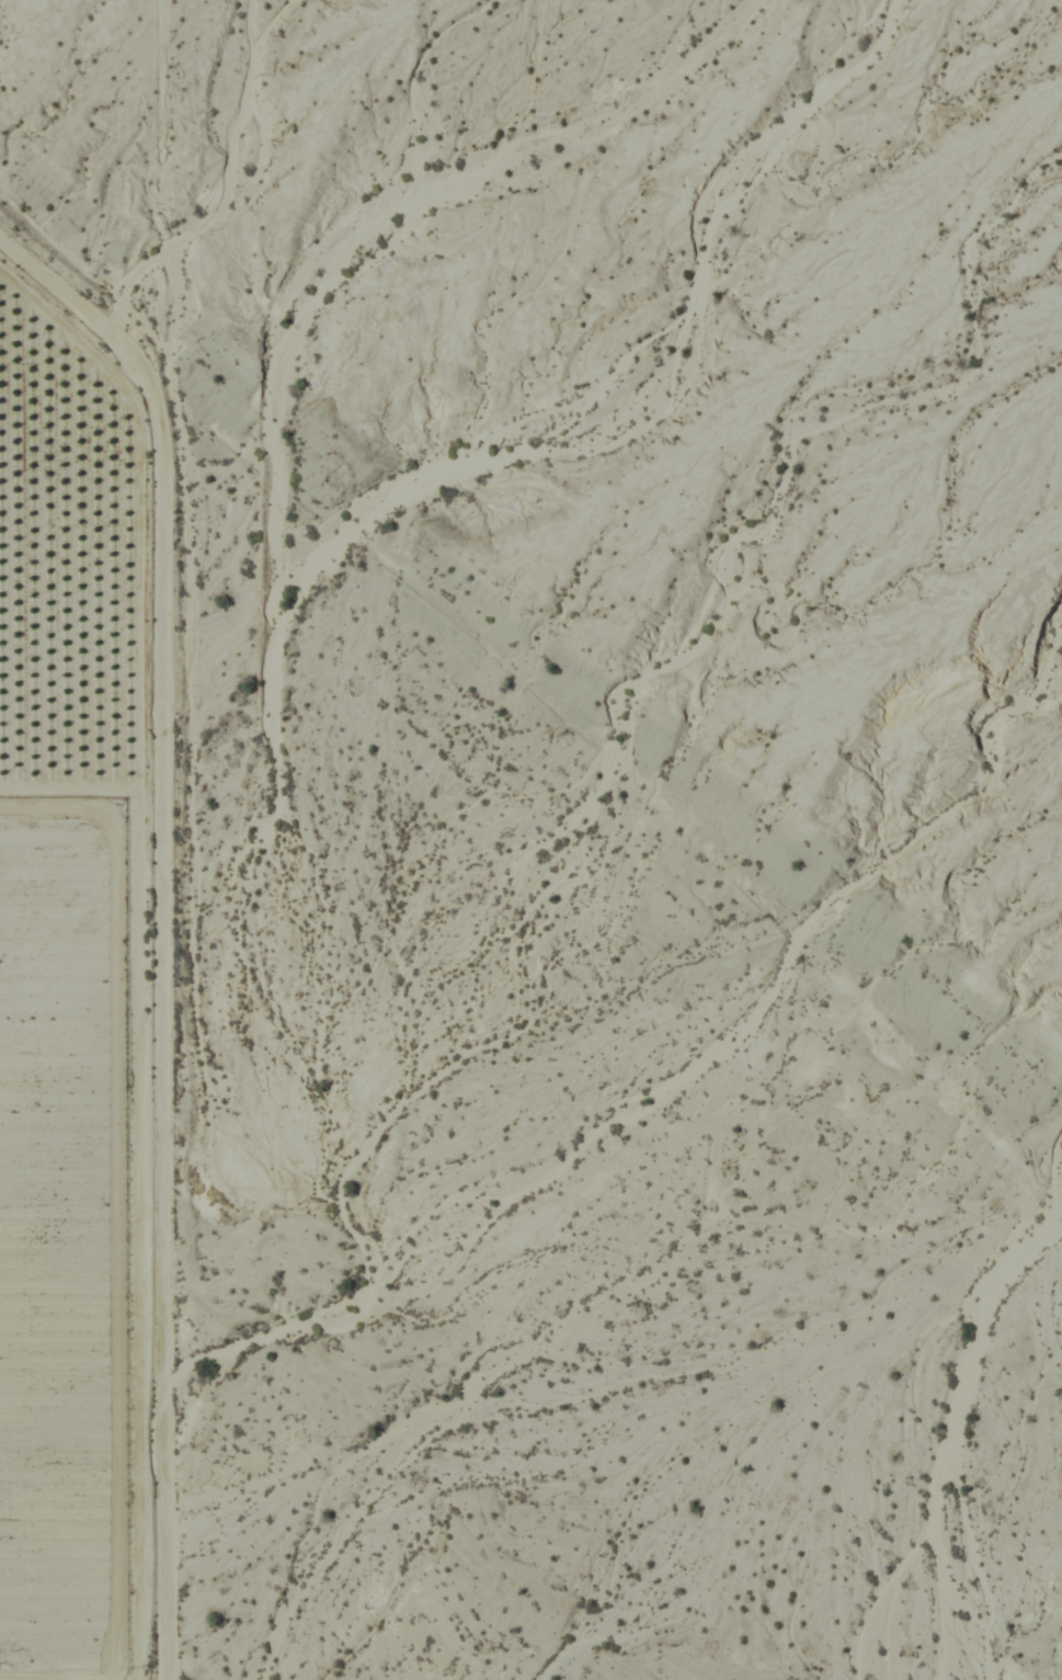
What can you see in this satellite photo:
road: (144, 934)

